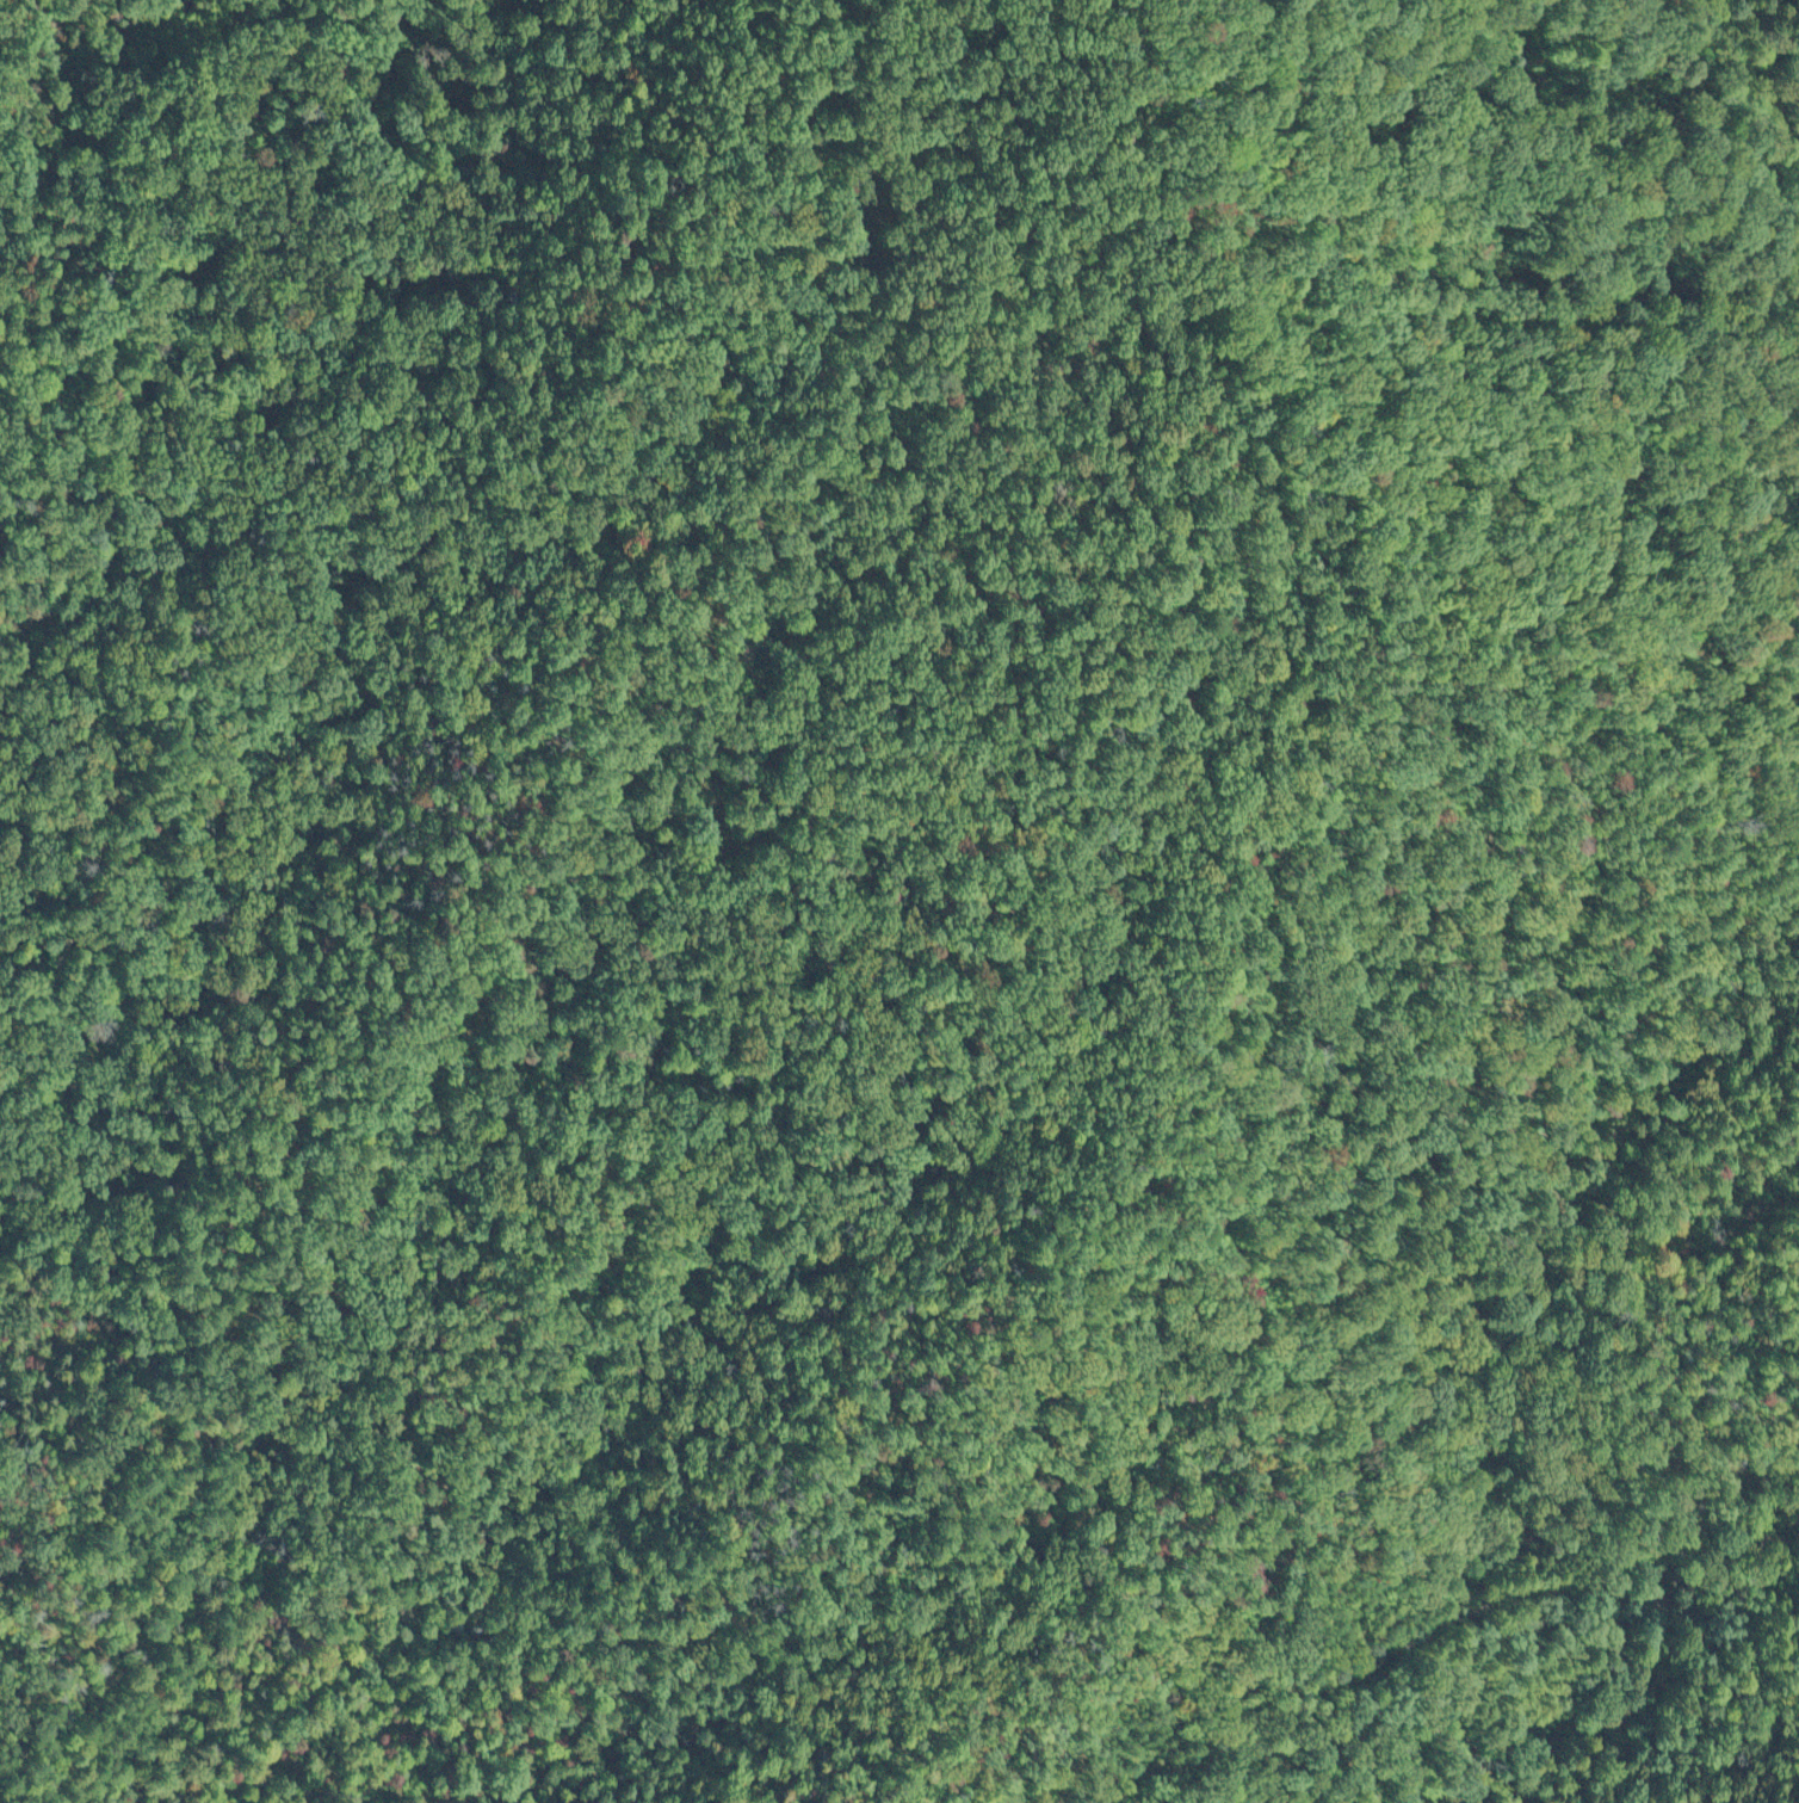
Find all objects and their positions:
road: (1498, 1597)

